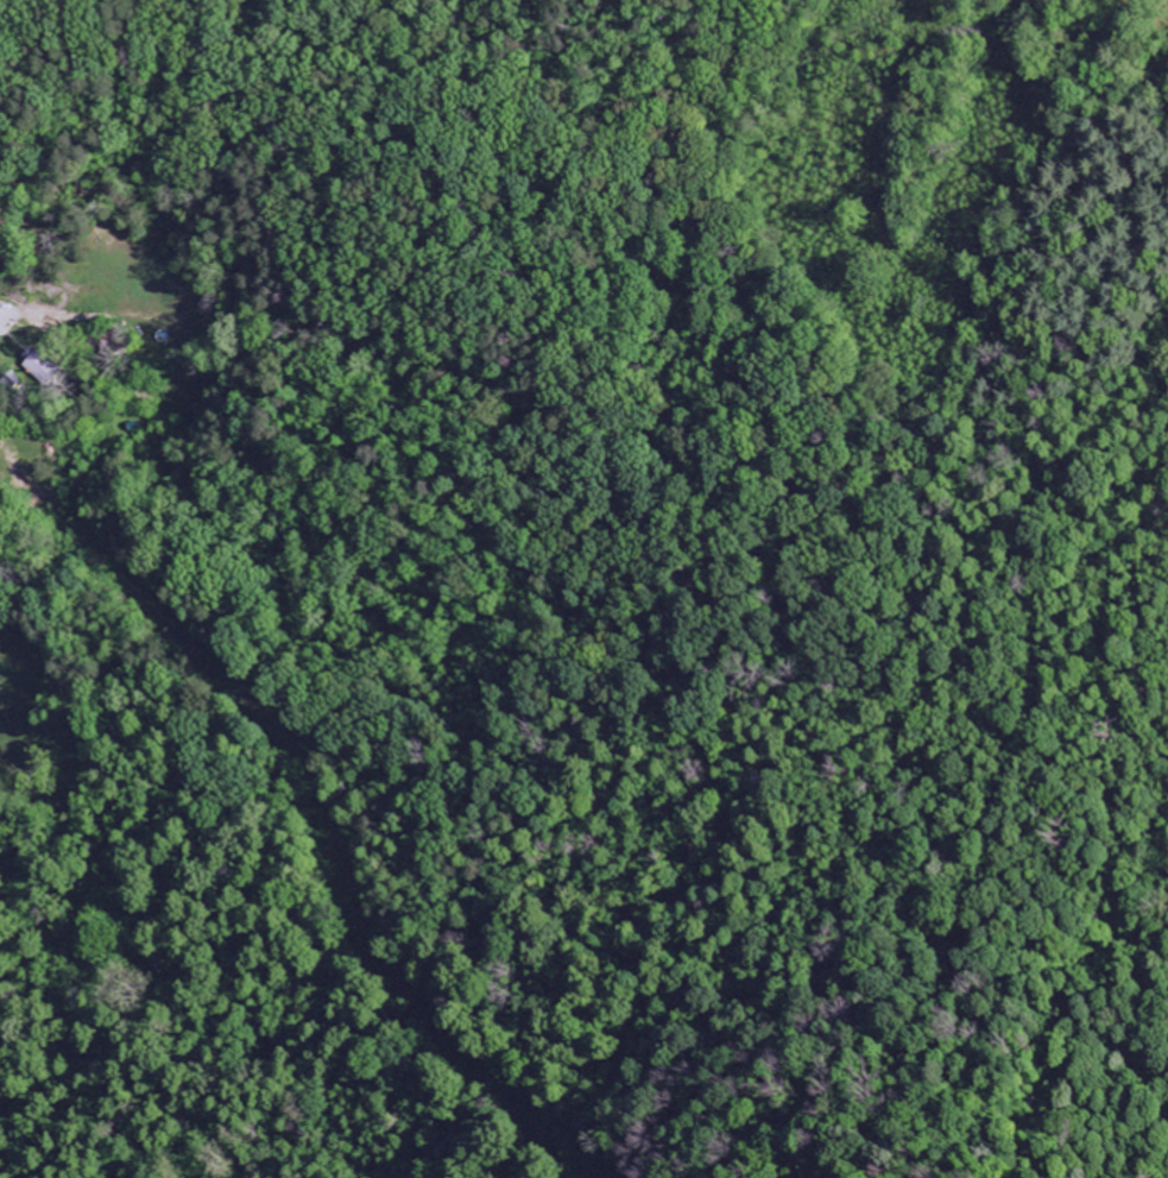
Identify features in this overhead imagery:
road: (0, 323)
road: (0, 325)
building: (40, 367)
building: (12, 384)

